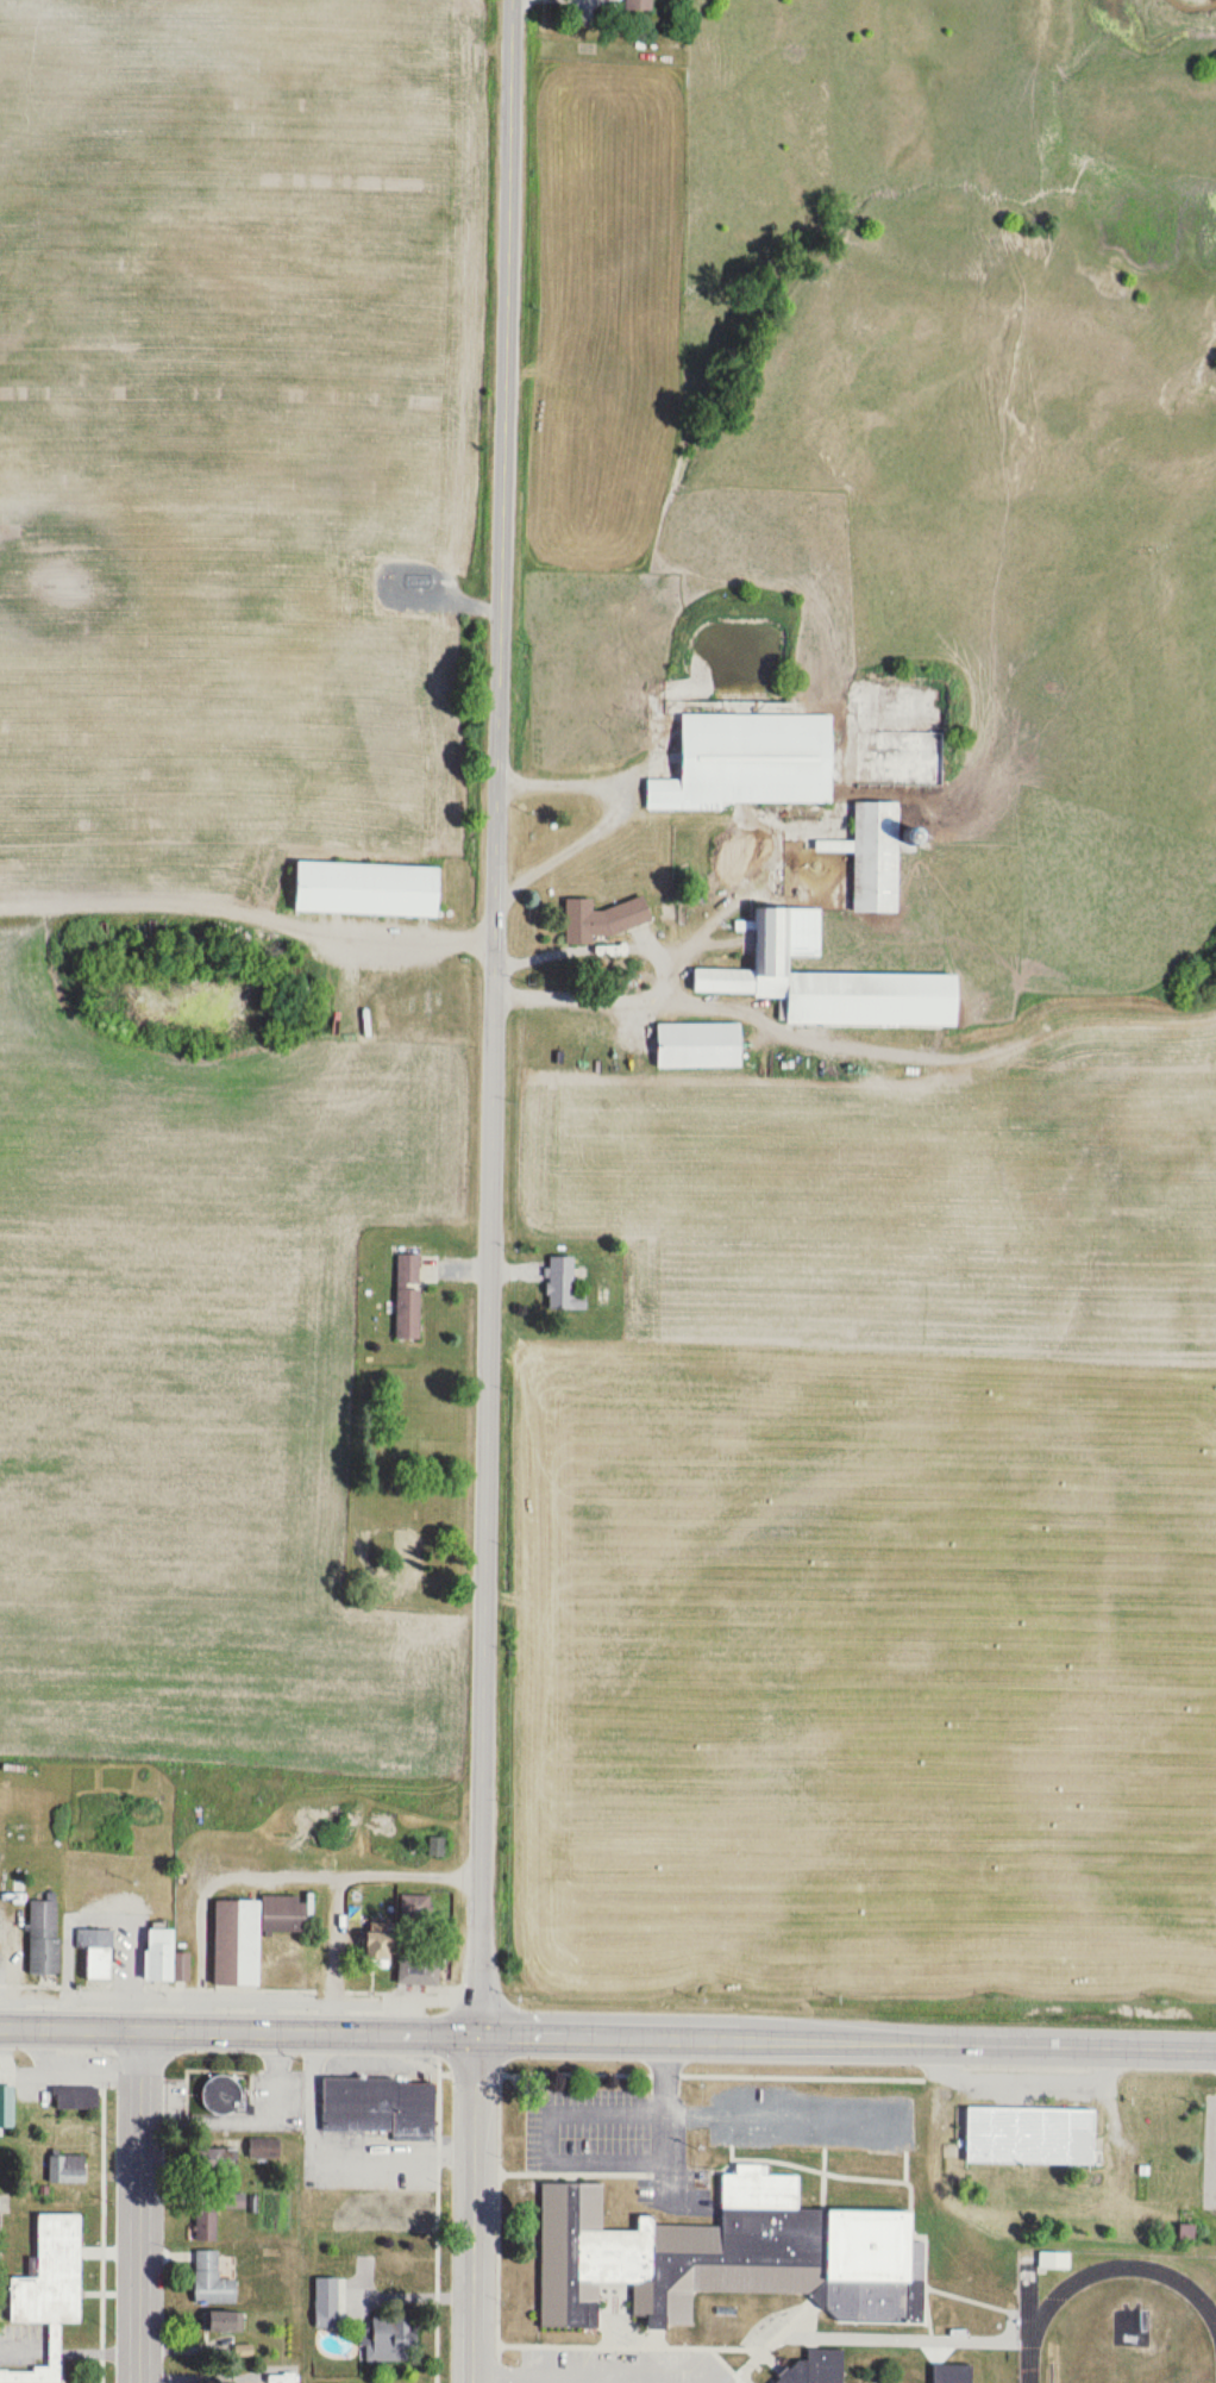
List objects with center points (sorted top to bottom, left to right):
building: (639, 5)
road: (501, 581)
building: (750, 763)
building: (876, 857)
building: (369, 889)
building: (602, 920)
building: (830, 981)
building: (700, 1045)
building: (563, 1286)
building: (408, 1296)
building: (407, 1553)
road: (484, 1597)
building: (434, 1846)
building: (415, 1909)
building: (232, 1932)
building: (44, 1938)
building: (153, 1944)
building: (381, 1946)
building: (99, 1953)
building: (419, 1969)
road: (607, 2035)
building: (222, 2093)
building: (76, 2099)
building: (377, 2102)
building: (6, 2106)
building: (1022, 2115)
building: (264, 2149)
building: (217, 2157)
building: (67, 2169)
road: (133, 2203)
road: (476, 2208)
building: (213, 2212)
building: (368, 2218)
building: (727, 2253)
building: (1054, 2260)
track: (1121, 2262)
building: (397, 2263)
building: (52, 2269)
building: (212, 2279)
track: (1022, 2290)
building: (326, 2306)
building: (225, 2321)
road: (900, 2331)
building: (391, 2338)
road: (651, 2339)
track: (1023, 2350)
building: (815, 2368)
building: (951, 2371)
building: (26, 2372)

